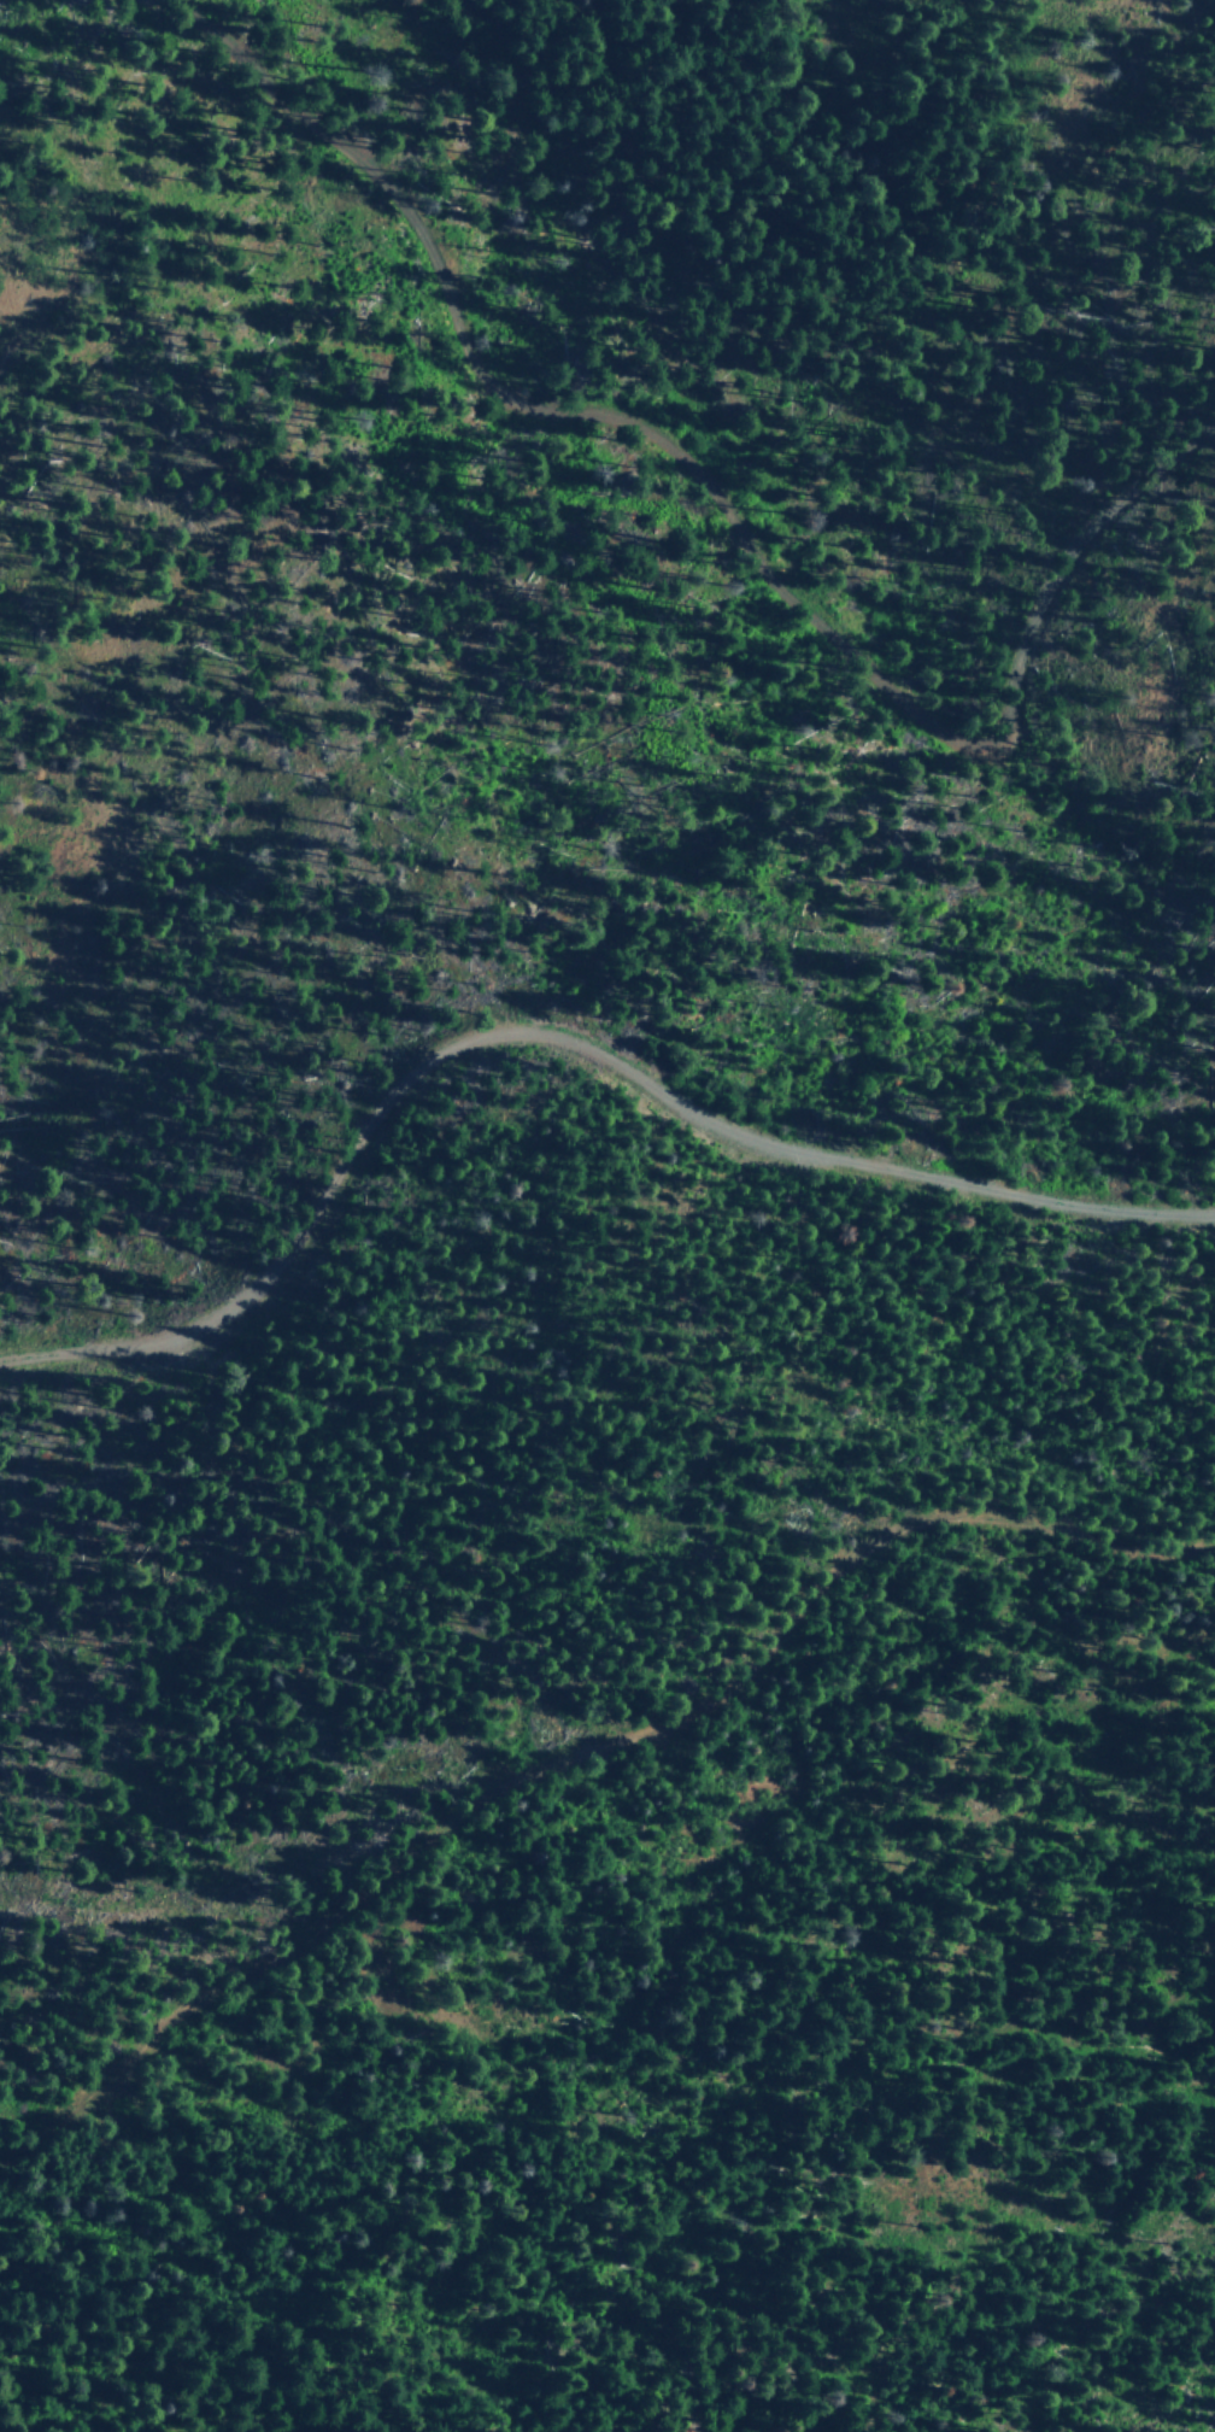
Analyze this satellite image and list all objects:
road: (732, 505)
road: (556, 1041)
road: (587, 1758)

